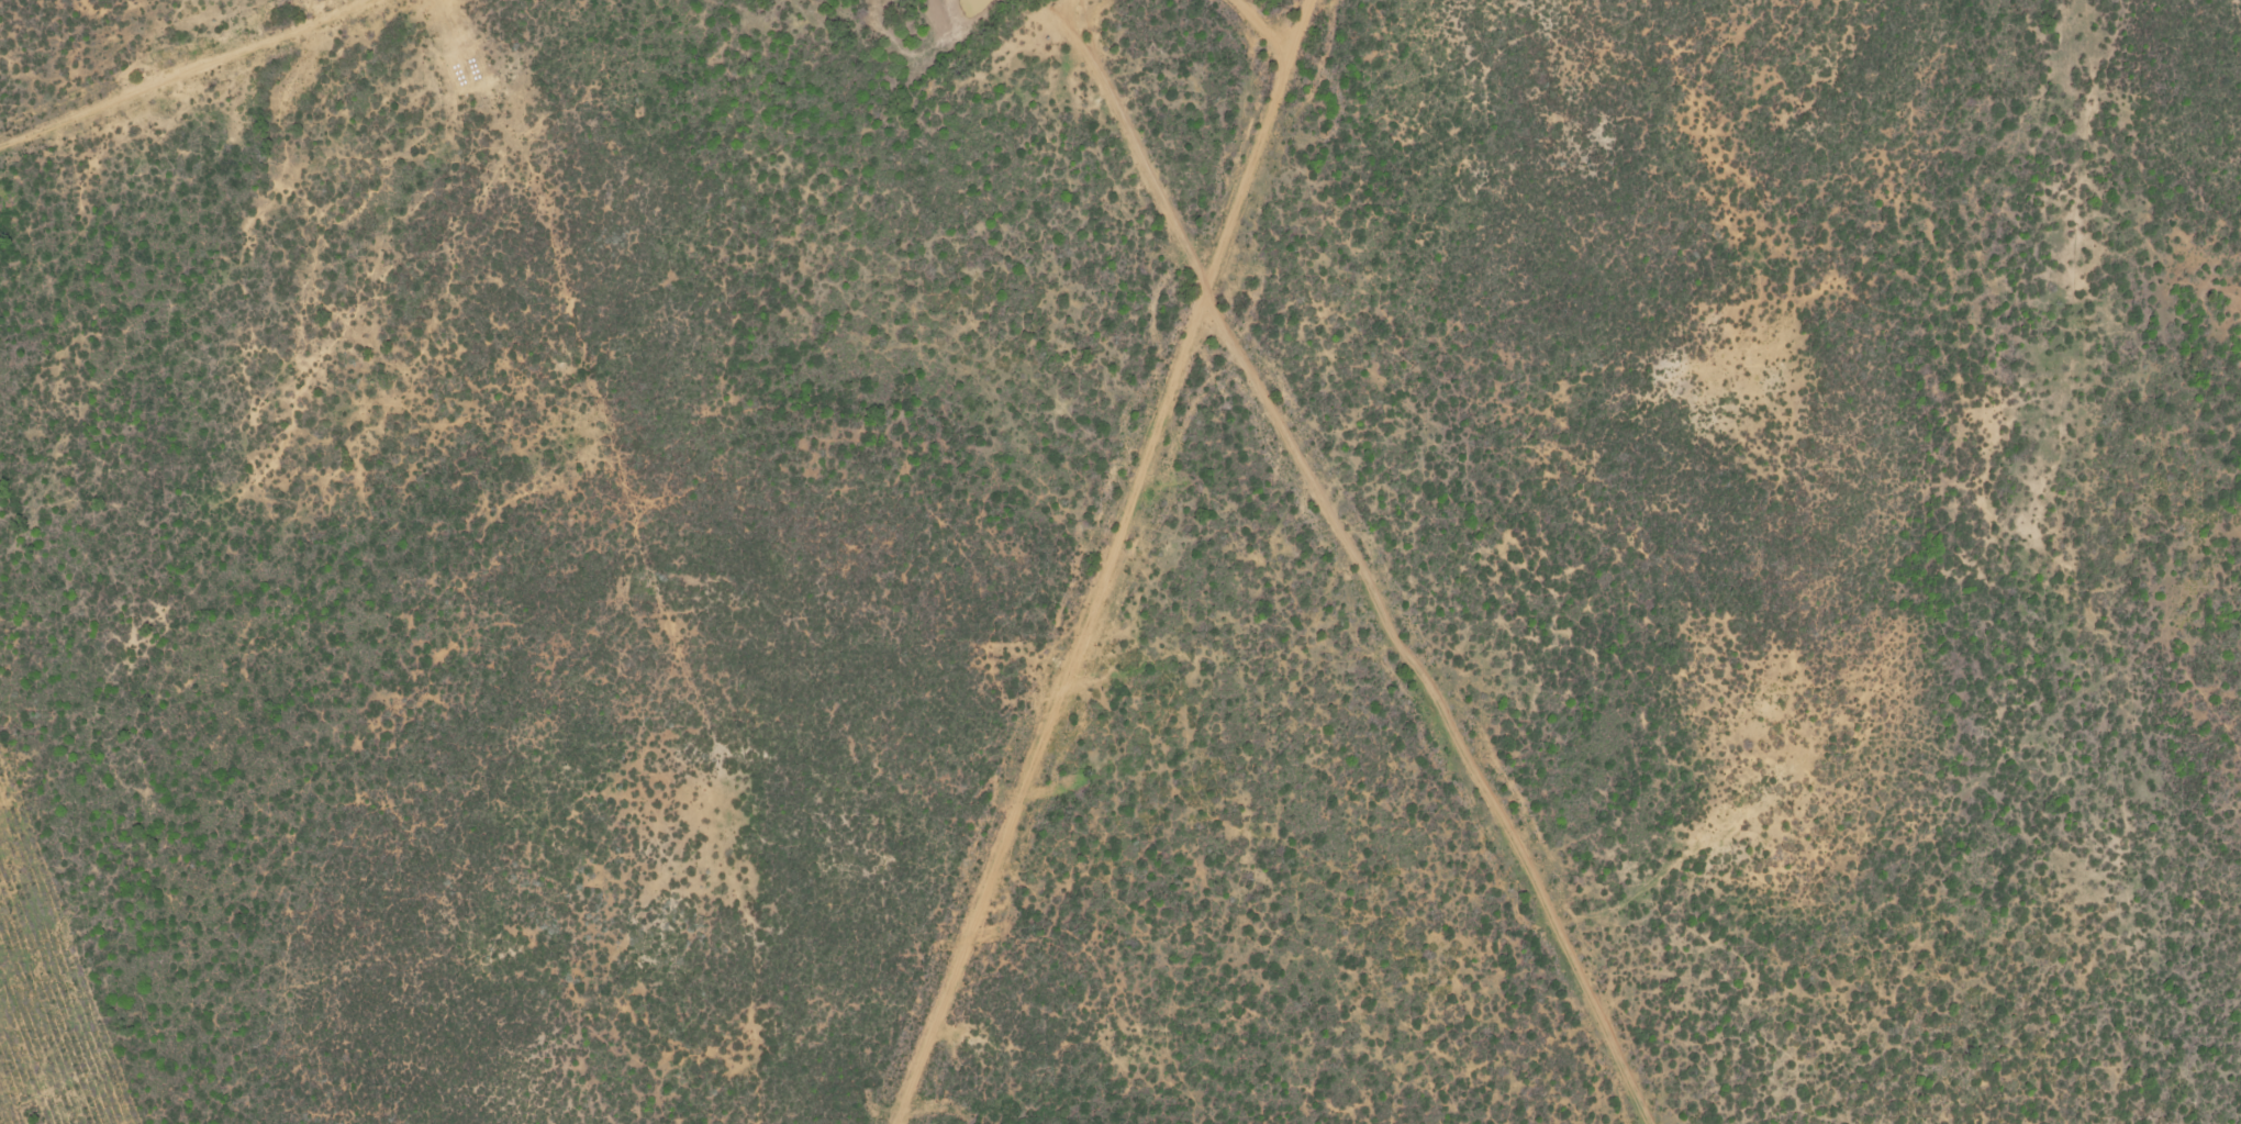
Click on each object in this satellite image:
road: (1295, 26)
road: (186, 73)
road: (1111, 557)

